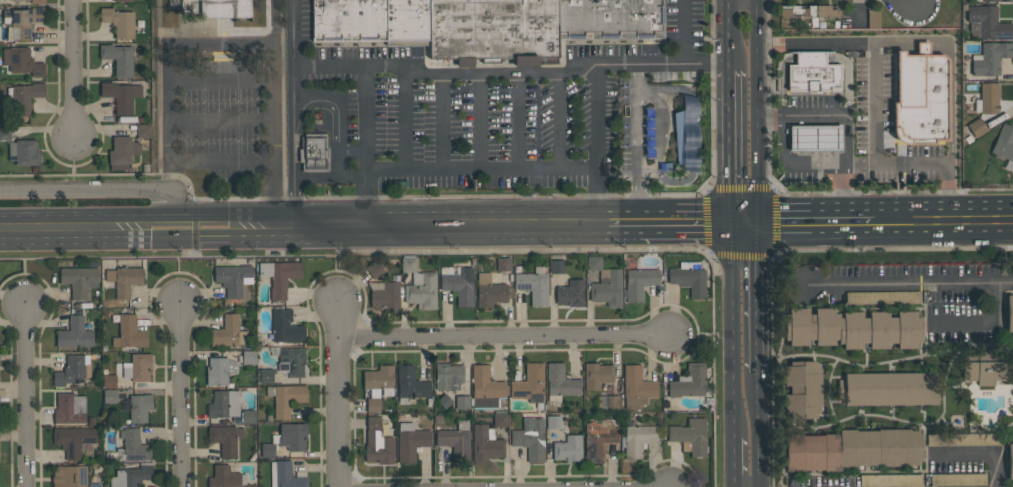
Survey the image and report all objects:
building: (989, 0)
building: (32, 1)
building: (123, 1)
building: (217, 8)
building: (807, 12)
building: (873, 19)
building: (22, 20)
building: (119, 22)
building: (986, 23)
building: (485, 25)
road: (682, 32)
road: (733, 35)
road: (818, 42)
building: (118, 58)
building: (990, 58)
building: (22, 61)
road: (612, 64)
road: (951, 64)
road: (73, 69)
building: (812, 73)
road: (443, 75)
road: (219, 79)
road: (665, 86)
building: (24, 96)
building: (121, 96)
building: (921, 97)
building: (987, 98)
road: (653, 101)
road: (316, 103)
road: (760, 113)
road: (650, 114)
road: (874, 115)
road: (368, 117)
road: (405, 119)
road: (220, 120)
road: (443, 122)
road: (480, 122)
road: (518, 122)
road: (559, 122)
road: (650, 123)
building: (977, 127)
road: (846, 129)
building: (143, 130)
building: (5, 132)
road: (650, 133)
building: (688, 134)
road: (691, 134)
building: (815, 138)
road: (650, 143)
road: (638, 145)
building: (1004, 145)
road: (732, 148)
building: (23, 152)
building: (122, 152)
building: (313, 152)
road: (649, 153)
road: (235, 158)
road: (913, 160)
road: (75, 162)
road: (793, 162)
road: (659, 163)
road: (384, 171)
road: (96, 187)
road: (948, 190)
road: (369, 198)
road: (292, 202)
road: (147, 215)
road: (943, 222)
road: (816, 225)
road: (450, 226)
road: (621, 227)
road: (683, 227)
traffic signals: (732, 227)
road: (745, 227)
traffic signals: (759, 227)
road: (147, 241)
road: (337, 259)
building: (593, 263)
building: (408, 264)
building: (503, 264)
building: (557, 266)
building: (374, 269)
road: (181, 272)
road: (26, 275)
building: (279, 276)
building: (689, 277)
building: (233, 278)
building: (80, 279)
building: (124, 279)
building: (458, 283)
building: (639, 283)
road: (911, 284)
building: (534, 285)
building: (608, 288)
building: (421, 290)
building: (491, 291)
building: (571, 293)
building: (384, 295)
road: (760, 299)
building: (1009, 313)
road: (983, 323)
building: (285, 326)
building: (853, 328)
building: (228, 332)
road: (732, 332)
building: (76, 333)
building: (129, 333)
road: (704, 334)
road: (507, 336)
building: (248, 357)
building: (292, 362)
building: (137, 367)
building: (72, 370)
building: (219, 370)
building: (983, 372)
building: (597, 375)
building: (266, 376)
building: (448, 376)
building: (109, 381)
building: (379, 381)
building: (560, 382)
building: (689, 382)
building: (410, 384)
building: (530, 384)
building: (636, 387)
building: (888, 388)
road: (338, 389)
building: (486, 389)
building: (803, 389)
road: (182, 395)
building: (110, 396)
road: (28, 397)
building: (285, 398)
building: (444, 401)
building: (462, 402)
building: (608, 402)
building: (223, 404)
building: (373, 405)
building: (139, 407)
building: (69, 408)
building: (248, 416)
building: (500, 420)
building: (553, 422)
road: (761, 429)
building: (291, 436)
building: (690, 436)
building: (225, 438)
building: (530, 438)
building: (637, 438)
building: (599, 439)
building: (73, 440)
building: (456, 440)
building: (411, 441)
building: (378, 443)
building: (485, 445)
building: (130, 446)
building: (568, 448)
building: (852, 449)
building: (267, 450)
road: (982, 454)
road: (735, 462)
building: (1010, 462)
building: (286, 475)
building: (69, 476)
building: (131, 476)
building: (226, 477)
building: (958, 479)
building: (890, 480)
building: (249, 485)
building: (94, 486)

